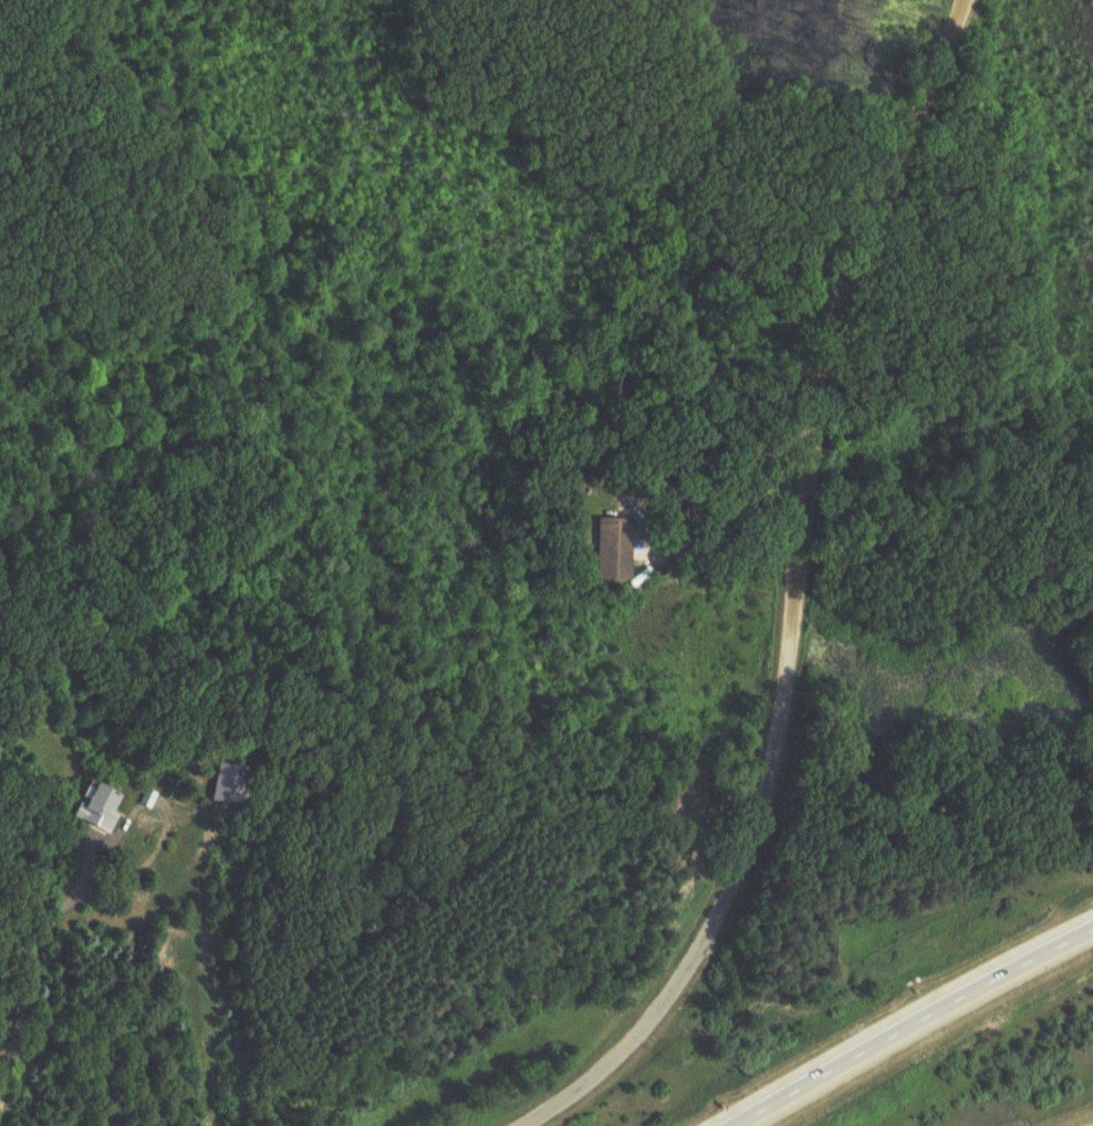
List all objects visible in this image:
park: (546, 227)
road: (843, 344)
road: (726, 548)
building: (617, 549)
building: (103, 805)
road: (698, 946)
road: (27, 986)
road: (905, 1021)

